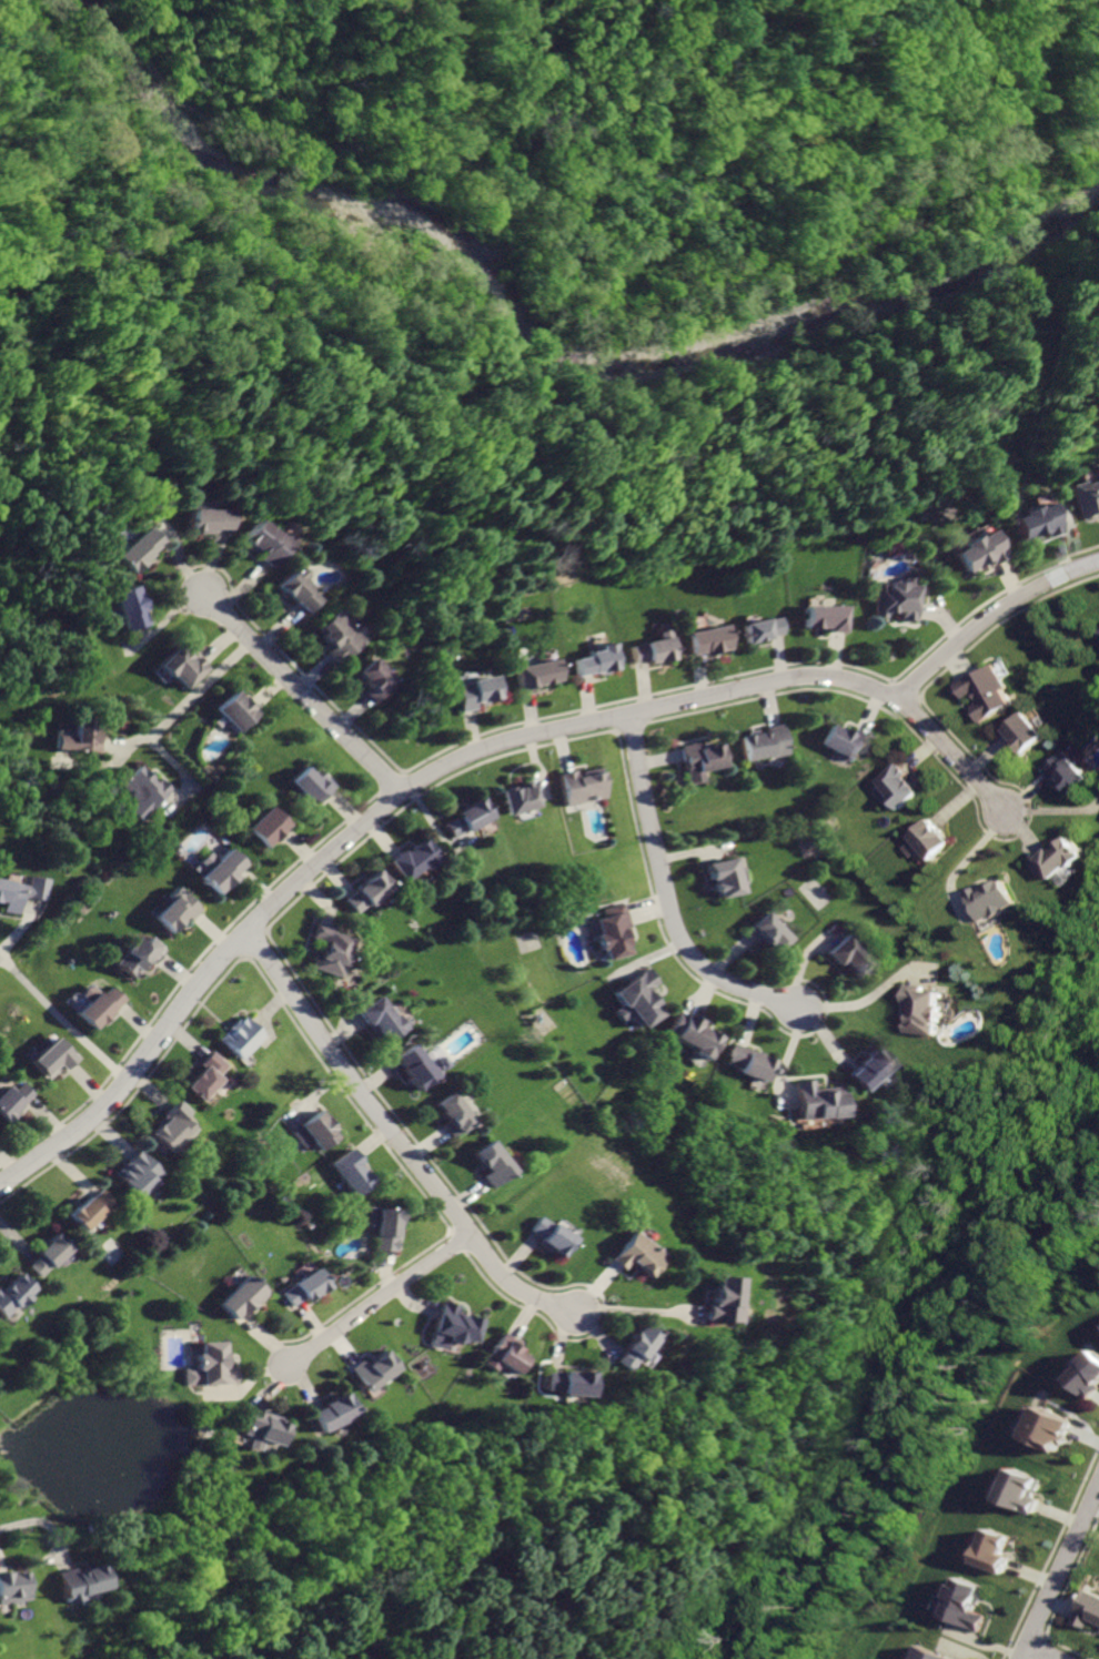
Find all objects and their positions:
building: (1085, 492)
building: (196, 517)
building: (1029, 524)
building: (259, 544)
building: (134, 550)
building: (974, 552)
building: (292, 589)
building: (893, 601)
building: (129, 608)
building: (820, 618)
road: (990, 618)
building: (758, 629)
building: (1098, 630)
building: (334, 638)
building: (704, 641)
building: (645, 653)
building: (589, 662)
building: (182, 667)
building: (530, 675)
building: (371, 679)
road: (199, 688)
building: (470, 691)
building: (985, 691)
road: (300, 694)
building: (234, 710)
building: (1025, 734)
building: (80, 737)
building: (847, 740)
building: (768, 742)
road: (127, 745)
building: (703, 760)
road: (448, 763)
building: (1068, 771)
road: (188, 776)
building: (310, 785)
building: (142, 787)
building: (582, 787)
building: (896, 787)
building: (518, 797)
road: (1051, 811)
building: (466, 819)
building: (264, 827)
building: (928, 840)
building: (1061, 859)
building: (411, 860)
road: (957, 868)
building: (221, 870)
building: (727, 874)
building: (366, 892)
road: (668, 896)
building: (9, 898)
building: (990, 899)
building: (175, 911)
road: (26, 923)
building: (614, 931)
building: (770, 932)
building: (327, 948)
building: (139, 955)
building: (855, 955)
road: (876, 992)
building: (639, 998)
building: (99, 1006)
building: (924, 1010)
road: (63, 1020)
building: (383, 1020)
building: (694, 1034)
building: (240, 1036)
building: (52, 1058)
building: (750, 1062)
building: (438, 1063)
building: (416, 1068)
building: (869, 1068)
building: (204, 1075)
building: (817, 1100)
building: (13, 1101)
building: (453, 1115)
building: (168, 1129)
building: (319, 1129)
road: (397, 1141)
building: (488, 1164)
building: (349, 1171)
building: (137, 1172)
building: (89, 1208)
building: (381, 1227)
building: (544, 1235)
building: (633, 1254)
building: (48, 1255)
building: (304, 1288)
building: (12, 1294)
building: (241, 1298)
road: (376, 1301)
building: (720, 1301)
road: (639, 1311)
building: (456, 1323)
building: (636, 1347)
building: (507, 1355)
building: (211, 1366)
building: (373, 1370)
building: (1089, 1375)
building: (572, 1383)
building: (333, 1412)
building: (1050, 1427)
building: (263, 1428)
building: (1022, 1489)
road: (16, 1527)
road: (53, 1544)
building: (996, 1551)
road: (1057, 1566)
building: (79, 1584)
building: (10, 1586)
building: (967, 1602)
building: (1087, 1608)
road: (1040, 1651)
building: (928, 1653)

